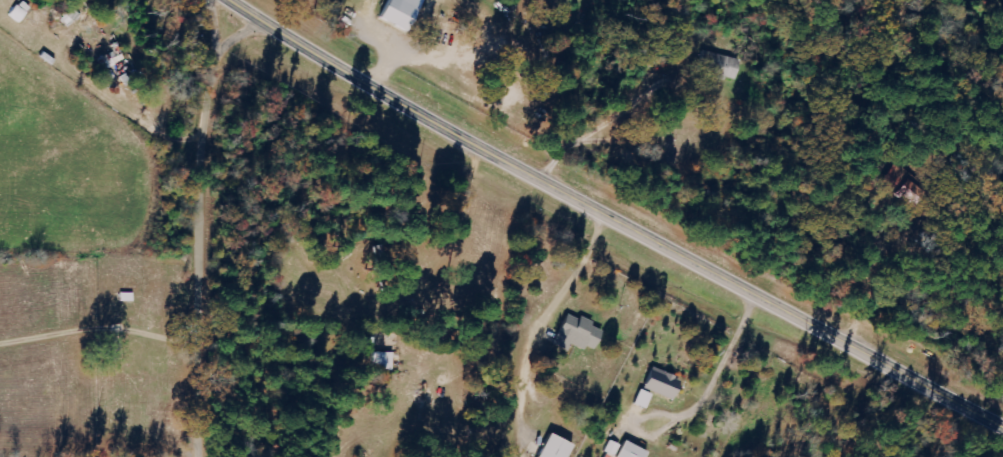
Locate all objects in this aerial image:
building: (398, 11)
road: (887, 33)
building: (721, 66)
road: (616, 216)
road: (208, 227)
building: (576, 333)
building: (381, 361)
building: (660, 383)
building: (642, 399)
building: (552, 447)
building: (622, 450)

